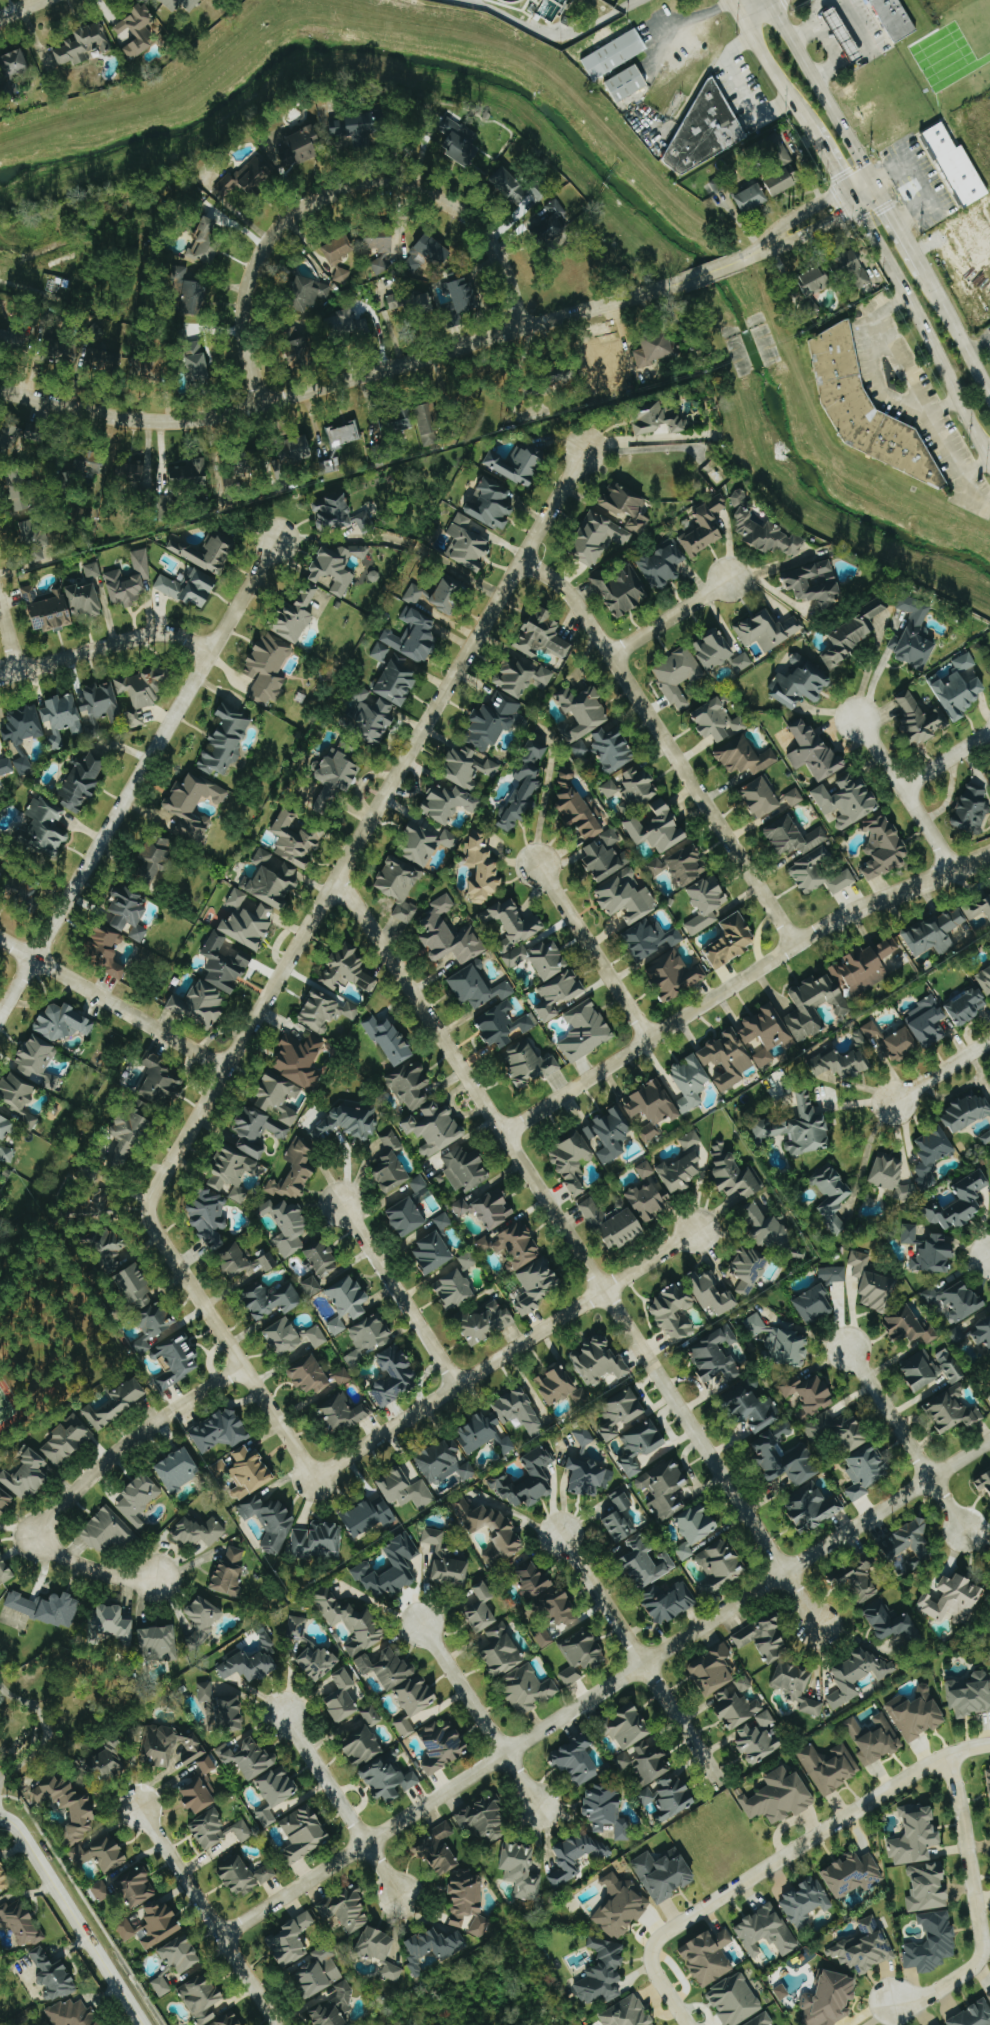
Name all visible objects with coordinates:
road: (738, 6)
road: (755, 6)
road: (21, 9)
road: (691, 15)
road: (812, 15)
building: (896, 19)
building: (137, 31)
road: (555, 33)
building: (844, 35)
building: (83, 44)
road: (824, 45)
road: (870, 48)
building: (614, 54)
building: (16, 62)
road: (774, 71)
building: (628, 83)
road: (740, 88)
road: (824, 94)
building: (358, 126)
building: (706, 131)
building: (460, 144)
building: (302, 147)
road: (824, 161)
building: (958, 166)
building: (782, 167)
building: (254, 175)
traffic signals: (870, 175)
building: (226, 185)
building: (517, 188)
traffic signals: (879, 190)
road: (340, 191)
traffic signals: (841, 191)
building: (752, 198)
road: (845, 199)
road: (864, 199)
traffic signals: (850, 208)
road: (797, 217)
building: (549, 222)
road: (901, 230)
road: (791, 239)
building: (382, 241)
building: (206, 242)
building: (339, 249)
building: (427, 254)
building: (382, 265)
building: (854, 270)
building: (180, 275)
building: (341, 276)
building: (815, 281)
building: (462, 293)
building: (308, 294)
building: (195, 298)
building: (394, 301)
building: (420, 304)
building: (347, 326)
road: (923, 327)
road: (957, 329)
road: (978, 343)
building: (657, 349)
building: (301, 351)
road: (870, 354)
building: (198, 360)
building: (104, 362)
building: (612, 368)
building: (145, 369)
road: (368, 374)
road: (923, 401)
building: (866, 410)
building: (659, 421)
building: (398, 423)
building: (429, 423)
building: (343, 435)
building: (298, 450)
building: (91, 463)
building: (518, 464)
building: (329, 466)
building: (188, 470)
building: (738, 497)
building: (492, 503)
building: (626, 507)
building: (333, 513)
building: (364, 521)
building: (704, 528)
building: (768, 535)
building: (35, 539)
building: (598, 539)
building: (467, 544)
building: (207, 552)
building: (662, 565)
building: (338, 567)
building: (91, 570)
building: (131, 581)
building: (816, 584)
building: (191, 588)
building: (622, 591)
building: (449, 594)
building: (62, 606)
building: (299, 616)
road: (672, 616)
building: (768, 631)
building: (854, 635)
building: (914, 635)
building: (415, 636)
building: (544, 637)
road: (8, 641)
road: (105, 645)
building: (714, 650)
building: (741, 663)
building: (268, 669)
building: (394, 676)
building: (523, 676)
building: (678, 676)
building: (800, 683)
building: (961, 688)
building: (143, 692)
building: (102, 703)
building: (584, 711)
building: (372, 718)
building: (62, 719)
building: (921, 719)
building: (718, 721)
building: (492, 723)
building: (24, 727)
building: (225, 741)
road: (666, 743)
building: (1, 745)
building: (580, 748)
building: (614, 749)
building: (814, 751)
building: (745, 757)
road: (945, 760)
building: (22, 765)
building: (5, 767)
building: (468, 768)
road: (136, 779)
building: (335, 779)
building: (82, 781)
building: (524, 787)
building: (610, 789)
road: (905, 794)
building: (794, 797)
building: (761, 798)
building: (848, 802)
building: (449, 803)
building: (194, 806)
building: (971, 810)
building: (45, 829)
building: (659, 829)
building: (591, 831)
building: (793, 836)
building: (297, 839)
building: (425, 842)
building: (885, 849)
building: (156, 860)
building: (688, 865)
building: (658, 866)
building: (482, 868)
building: (820, 873)
building: (271, 880)
building: (400, 886)
building: (626, 896)
building: (237, 898)
building: (706, 903)
building: (127, 909)
building: (979, 909)
building: (249, 924)
building: (935, 933)
building: (448, 934)
building: (653, 939)
building: (525, 940)
building: (732, 940)
building: (107, 950)
road: (593, 952)
road: (283, 967)
building: (348, 971)
building: (675, 975)
building: (985, 979)
road: (739, 980)
building: (214, 982)
building: (839, 986)
building: (477, 987)
building: (559, 994)
road: (112, 1004)
building: (969, 1006)
building: (324, 1010)
building: (927, 1021)
building: (63, 1022)
building: (503, 1025)
building: (585, 1031)
building: (766, 1033)
building: (868, 1035)
building: (389, 1039)
building: (901, 1044)
building: (728, 1058)
building: (529, 1063)
building: (842, 1066)
road: (942, 1070)
building: (161, 1079)
building: (691, 1081)
building: (411, 1083)
building: (279, 1095)
building: (19, 1098)
building: (653, 1103)
building: (968, 1112)
building: (346, 1121)
building: (6, 1127)
building: (800, 1127)
building: (435, 1128)
building: (649, 1132)
building: (610, 1134)
building: (986, 1137)
building: (690, 1139)
road: (864, 1153)
building: (7, 1154)
building: (572, 1163)
building: (390, 1164)
building: (888, 1164)
building: (465, 1168)
building: (646, 1169)
building: (294, 1172)
building: (680, 1172)
building: (233, 1173)
building: (734, 1175)
building: (418, 1183)
building: (831, 1195)
building: (649, 1199)
building: (962, 1203)
building: (463, 1208)
building: (494, 1209)
building: (592, 1211)
building: (407, 1216)
building: (210, 1217)
building: (443, 1221)
building: (287, 1226)
building: (765, 1226)
building: (624, 1228)
building: (909, 1234)
building: (514, 1244)
building: (109, 1248)
road: (577, 1251)
building: (433, 1253)
building: (934, 1254)
building: (323, 1258)
building: (467, 1260)
building: (859, 1262)
building: (243, 1263)
building: (748, 1269)
building: (832, 1274)
building: (537, 1285)
building: (313, 1286)
building: (137, 1287)
building: (454, 1289)
building: (877, 1291)
building: (713, 1293)
road: (400, 1295)
building: (349, 1297)
building: (956, 1298)
building: (274, 1300)
building: (815, 1305)
building: (674, 1312)
building: (488, 1322)
building: (152, 1325)
building: (337, 1326)
building: (910, 1326)
building: (982, 1330)
building: (292, 1337)
building: (368, 1338)
building: (779, 1340)
road: (504, 1354)
building: (716, 1356)
building: (176, 1360)
building: (599, 1361)
building: (949, 1366)
building: (919, 1373)
building: (310, 1375)
building: (342, 1376)
building: (394, 1376)
building: (560, 1387)
building: (810, 1395)
building: (988, 1395)
building: (118, 1403)
building: (752, 1407)
building: (520, 1411)
building: (952, 1411)
building: (621, 1412)
building: (342, 1413)
building: (220, 1431)
building: (479, 1431)
building: (839, 1431)
road: (906, 1439)
building: (67, 1440)
building: (641, 1445)
building: (786, 1457)
building: (444, 1462)
building: (586, 1467)
building: (178, 1470)
building: (866, 1471)
building: (250, 1473)
building: (27, 1476)
building: (528, 1480)
building: (983, 1482)
road: (81, 1484)
building: (406, 1489)
building: (664, 1489)
building: (138, 1499)
building: (5, 1501)
building: (815, 1507)
building: (371, 1516)
building: (270, 1521)
building: (696, 1529)
building: (106, 1531)
building: (201, 1531)
building: (491, 1531)
building: (316, 1539)
building: (636, 1544)
building: (909, 1544)
building: (446, 1560)
building: (720, 1566)
building: (5, 1570)
building: (231, 1570)
building: (390, 1570)
building: (547, 1593)
building: (954, 1599)
building: (669, 1602)
building: (46, 1608)
building: (203, 1617)
building: (351, 1621)
building: (892, 1622)
building: (109, 1624)
building: (296, 1628)
building: (494, 1632)
building: (764, 1636)
building: (544, 1637)
building: (159, 1642)
building: (581, 1654)
road: (641, 1662)
building: (252, 1663)
building: (318, 1663)
building: (388, 1668)
building: (714, 1670)
building: (858, 1676)
building: (744, 1684)
building: (797, 1686)
building: (528, 1689)
road: (607, 1690)
building: (417, 1695)
building: (969, 1695)
building: (343, 1697)
building: (222, 1710)
road: (480, 1714)
building: (917, 1714)
building: (371, 1715)
building: (749, 1725)
building: (405, 1727)
building: (629, 1727)
road: (44, 1729)
building: (874, 1739)
building: (362, 1746)
building: (443, 1746)
building: (171, 1747)
building: (248, 1757)
building: (577, 1760)
building: (207, 1764)
building: (831, 1767)
building: (989, 1768)
building: (388, 1780)
building: (279, 1789)
building: (200, 1795)
building: (670, 1797)
building: (780, 1797)
road: (341, 1805)
building: (69, 1807)
building: (607, 1811)
building: (267, 1815)
building: (485, 1819)
building: (218, 1829)
building: (304, 1833)
building: (438, 1848)
building: (100, 1854)
building: (577, 1857)
road: (778, 1858)
building: (921, 1859)
building: (520, 1870)
building: (266, 1873)
building: (664, 1875)
building: (853, 1875)
building: (239, 1877)
building: (4, 1878)
building: (137, 1887)
building: (101, 1891)
building: (806, 1901)
building: (468, 1903)
road: (978, 1906)
building: (620, 1907)
building: (347, 1910)
road: (207, 1915)
road: (73, 1917)
building: (21, 1923)
building: (766, 1932)
building: (291, 1940)
building: (933, 1942)
building: (375, 1945)
building: (431, 1947)
building: (864, 1947)
building: (181, 1954)
building: (709, 1957)
building: (391, 1971)
building: (319, 1972)
building: (602, 1972)
building: (52, 1976)
building: (162, 1986)
building: (782, 1992)
building: (989, 1992)
building: (202, 1997)
building: (829, 1999)
building: (735, 2000)
building: (334, 2008)
building: (627, 2013)
building: (73, 2014)
building: (973, 2015)
building: (228, 2020)
building: (762, 2020)
building: (943, 2024)

